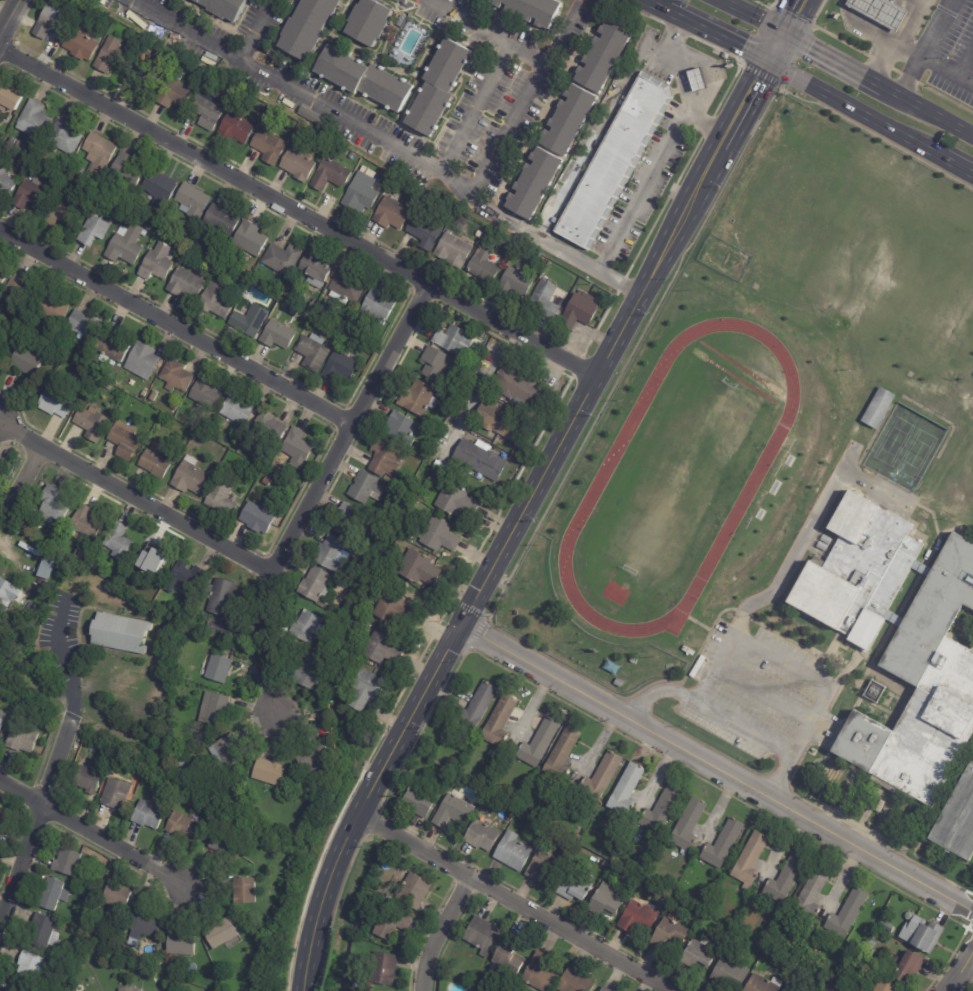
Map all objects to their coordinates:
road: (125, 0)
building: (399, 1)
building: (225, 7)
road: (647, 7)
building: (531, 10)
building: (881, 12)
gas station: (881, 12)
road: (744, 21)
road: (796, 21)
building: (368, 22)
building: (50, 23)
road: (12, 24)
building: (303, 26)
road: (860, 29)
road: (259, 31)
road: (488, 33)
road: (715, 41)
traffic signals: (785, 43)
building: (81, 44)
road: (894, 44)
road: (923, 49)
road: (907, 50)
building: (109, 56)
road: (777, 56)
building: (603, 58)
road: (675, 66)
road: (831, 67)
traffic signals: (770, 70)
road: (946, 71)
building: (142, 78)
building: (363, 79)
building: (695, 80)
building: (437, 88)
building: (173, 94)
building: (248, 99)
building: (9, 100)
road: (528, 102)
building: (255, 104)
road: (750, 106)
road: (475, 110)
building: (208, 111)
road: (855, 117)
road: (926, 117)
building: (31, 119)
building: (315, 120)
building: (568, 120)
building: (235, 127)
road: (708, 127)
building: (1, 135)
building: (63, 137)
building: (12, 141)
road: (387, 144)
building: (331, 145)
road: (728, 145)
building: (19, 146)
building: (269, 147)
building: (352, 155)
building: (96, 157)
building: (612, 161)
building: (298, 163)
building: (126, 170)
road: (956, 173)
building: (329, 174)
building: (534, 183)
building: (5, 186)
building: (158, 189)
building: (359, 192)
road: (644, 192)
building: (29, 196)
building: (192, 203)
building: (59, 215)
road: (299, 215)
building: (390, 215)
building: (221, 220)
building: (147, 227)
building: (92, 230)
building: (423, 231)
building: (187, 236)
building: (249, 240)
building: (198, 241)
building: (125, 247)
building: (452, 249)
building: (280, 259)
building: (156, 263)
building: (482, 266)
building: (314, 272)
building: (3, 275)
building: (185, 283)
building: (513, 283)
building: (344, 289)
building: (19, 292)
building: (274, 297)
building: (216, 301)
building: (543, 301)
building: (375, 308)
building: (52, 309)
building: (577, 313)
building: (305, 317)
building: (247, 318)
building: (27, 322)
building: (83, 325)
road: (177, 331)
building: (361, 333)
building: (479, 333)
building: (276, 336)
building: (454, 339)
building: (112, 345)
building: (365, 349)
building: (310, 352)
building: (141, 361)
building: (23, 362)
building: (434, 362)
building: (337, 368)
building: (175, 377)
building: (516, 386)
road: (477, 391)
building: (143, 394)
building: (205, 394)
building: (153, 395)
building: (418, 398)
building: (53, 401)
building: (173, 407)
building: (877, 407)
building: (236, 411)
building: (499, 422)
building: (90, 425)
building: (268, 428)
building: (400, 429)
building: (124, 441)
building: (227, 443)
park: (903, 447)
building: (295, 449)
building: (384, 457)
building: (479, 460)
building: (154, 462)
track: (599, 476)
building: (189, 478)
road: (27, 481)
building: (266, 481)
building: (365, 487)
road: (317, 492)
building: (220, 498)
road: (134, 499)
building: (456, 501)
building: (51, 507)
building: (424, 511)
building: (256, 520)
building: (350, 521)
building: (84, 524)
road: (812, 528)
building: (404, 530)
building: (438, 535)
building: (826, 539)
building: (116, 541)
road: (0, 543)
building: (822, 545)
building: (327, 551)
building: (81, 555)
building: (39, 557)
building: (152, 559)
road: (502, 563)
building: (93, 565)
building: (49, 567)
building: (417, 568)
building: (858, 570)
building: (185, 577)
building: (314, 584)
building: (12, 592)
building: (219, 598)
building: (171, 607)
building: (392, 609)
building: (2, 617)
building: (304, 626)
building: (120, 633)
building: (379, 647)
road: (767, 655)
road: (59, 657)
building: (632, 661)
building: (217, 668)
building: (309, 672)
building: (619, 683)
building: (924, 688)
building: (365, 689)
parking lot: (754, 691)
road: (763, 695)
building: (475, 707)
building: (212, 709)
building: (3, 720)
building: (498, 721)
building: (47, 725)
road: (747, 727)
building: (24, 736)
building: (539, 743)
building: (226, 752)
building: (561, 755)
building: (311, 756)
building: (117, 760)
building: (179, 761)
road: (721, 768)
building: (268, 772)
building: (599, 777)
building: (90, 779)
building: (453, 784)
building: (625, 791)
building: (117, 793)
building: (418, 802)
building: (551, 804)
building: (660, 809)
building: (452, 811)
building: (151, 814)
road: (34, 815)
building: (508, 818)
building: (957, 818)
building: (3, 819)
building: (687, 824)
building: (185, 827)
road: (92, 833)
building: (479, 835)
building: (721, 844)
building: (229, 845)
building: (510, 852)
building: (389, 856)
building: (581, 856)
building: (749, 859)
building: (69, 862)
building: (544, 865)
building: (784, 879)
building: (573, 888)
building: (412, 891)
building: (246, 893)
building: (811, 894)
building: (56, 895)
building: (120, 897)
building: (91, 900)
building: (661, 900)
building: (606, 901)
road: (517, 902)
building: (846, 914)
building: (697, 915)
building: (637, 918)
building: (388, 923)
building: (148, 925)
building: (882, 925)
road: (433, 928)
building: (890, 929)
building: (46, 932)
building: (223, 933)
building: (668, 934)
building: (921, 934)
building: (480, 935)
building: (182, 942)
building: (871, 944)
building: (868, 951)
building: (765, 952)
building: (696, 954)
building: (505, 958)
building: (32, 966)
building: (381, 968)
building: (908, 968)
building: (152, 973)
building: (471, 973)
building: (728, 973)
building: (537, 974)
road: (962, 975)
building: (573, 982)
building: (760, 984)
building: (355, 985)
building: (368, 985)
building: (884, 986)
building: (485, 987)
building: (18, 988)
building: (602, 989)
building: (139, 990)
building: (783, 990)

